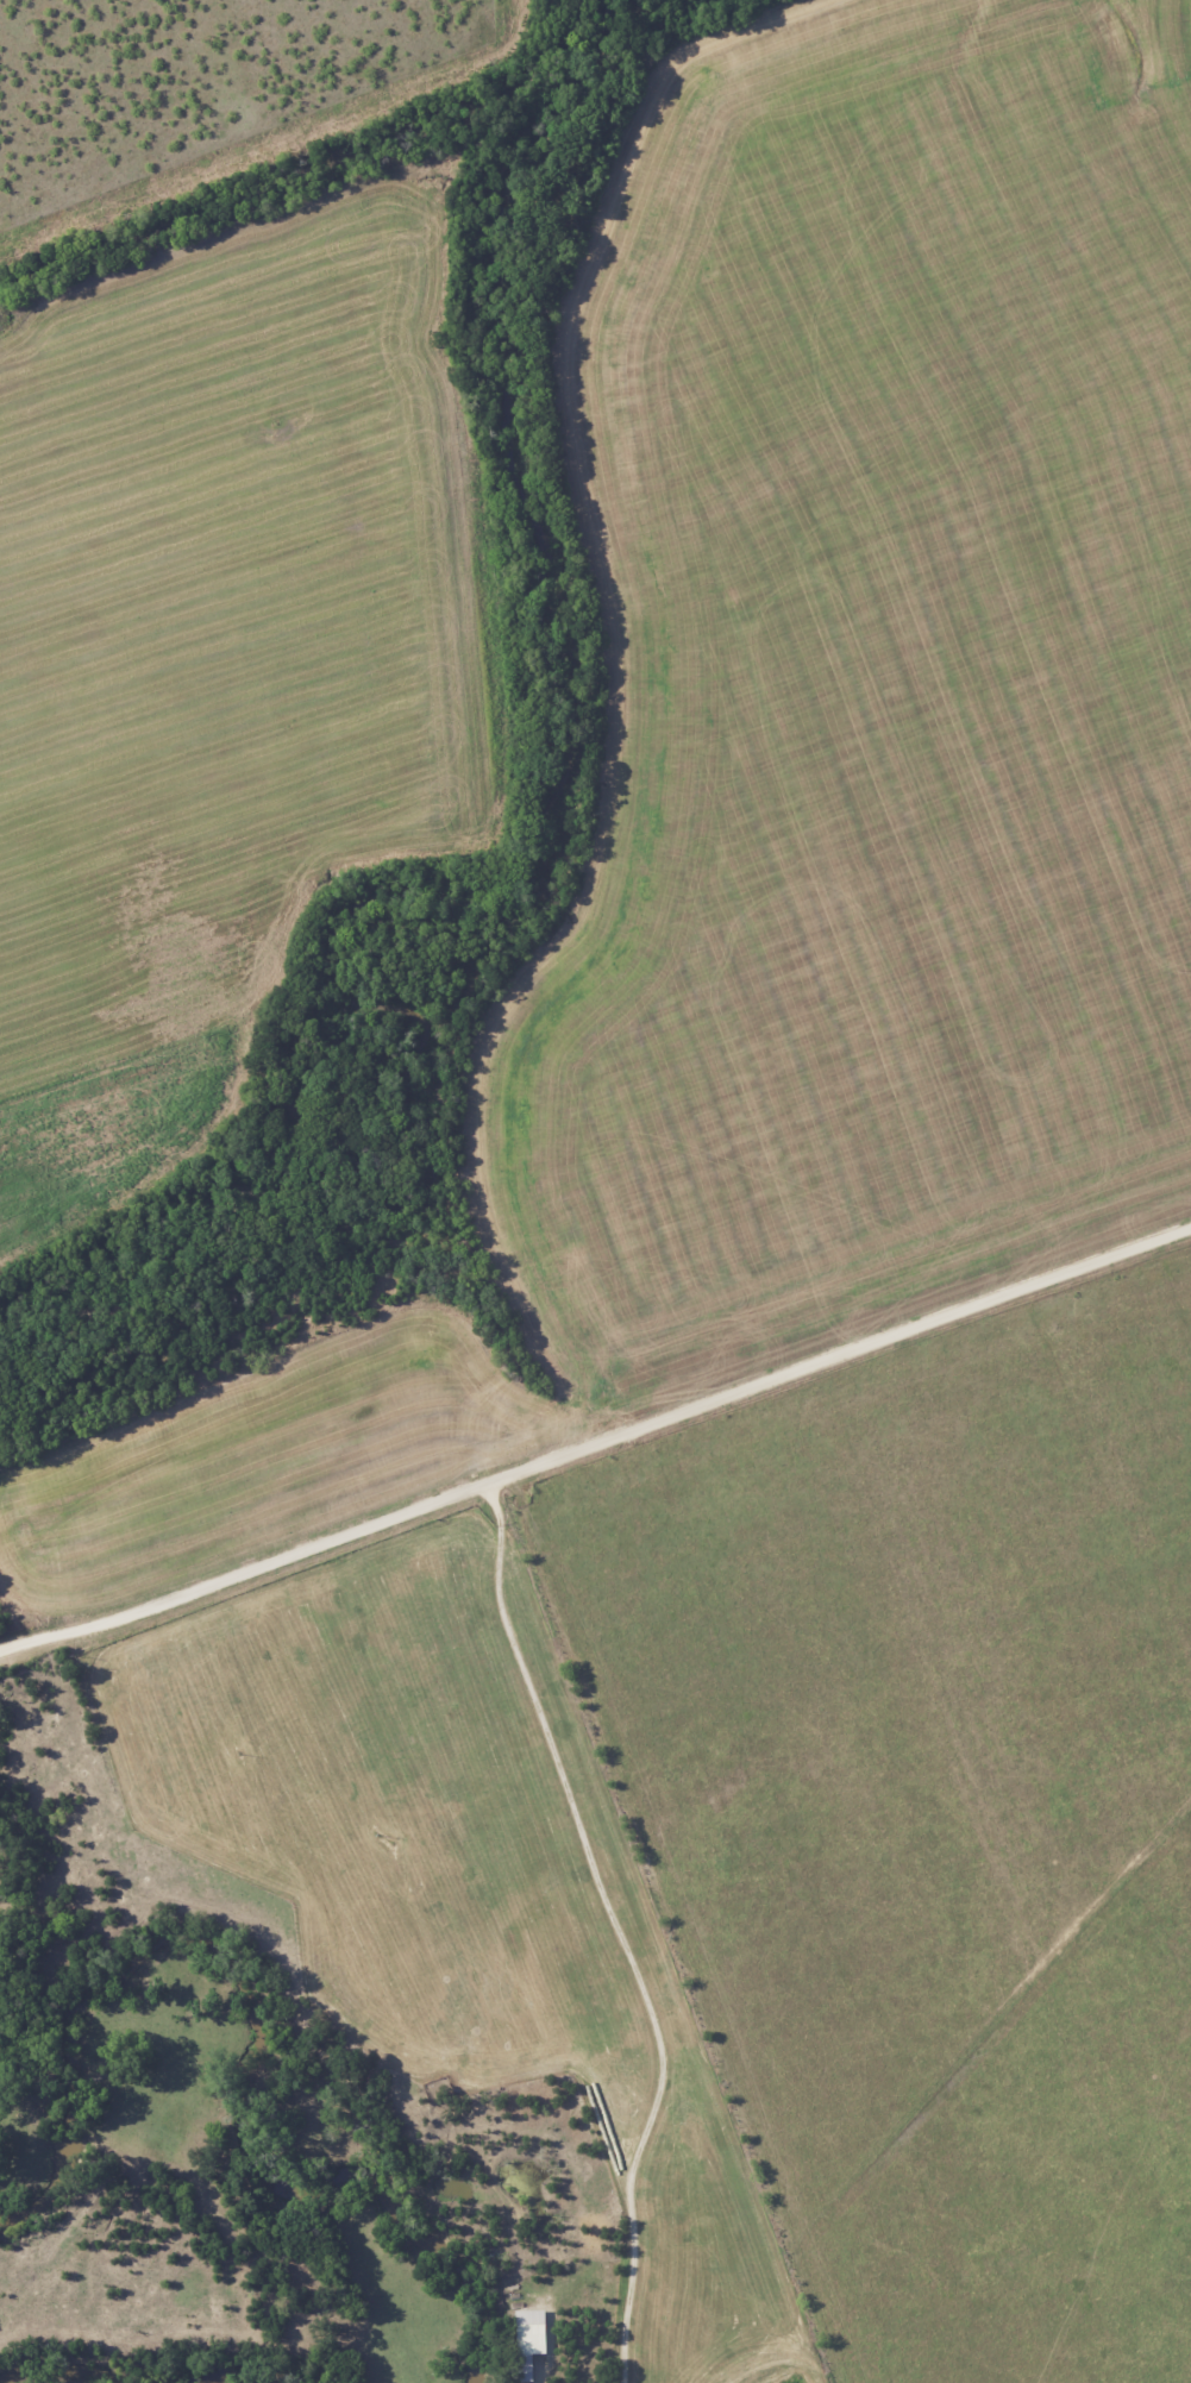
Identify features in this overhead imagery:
road: (595, 1451)
road: (618, 1932)
building: (531, 2339)

